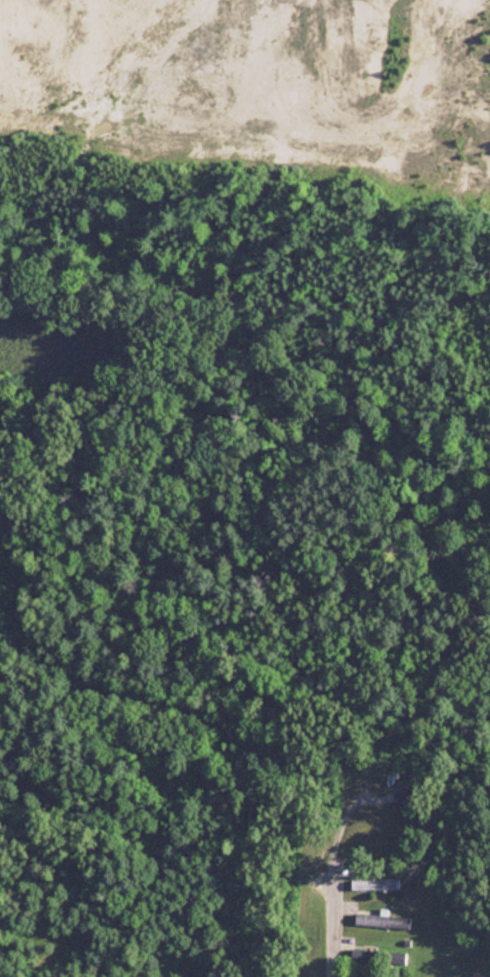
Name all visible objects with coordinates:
building: (408, 798)
building: (366, 880)
road: (338, 898)
building: (382, 920)

